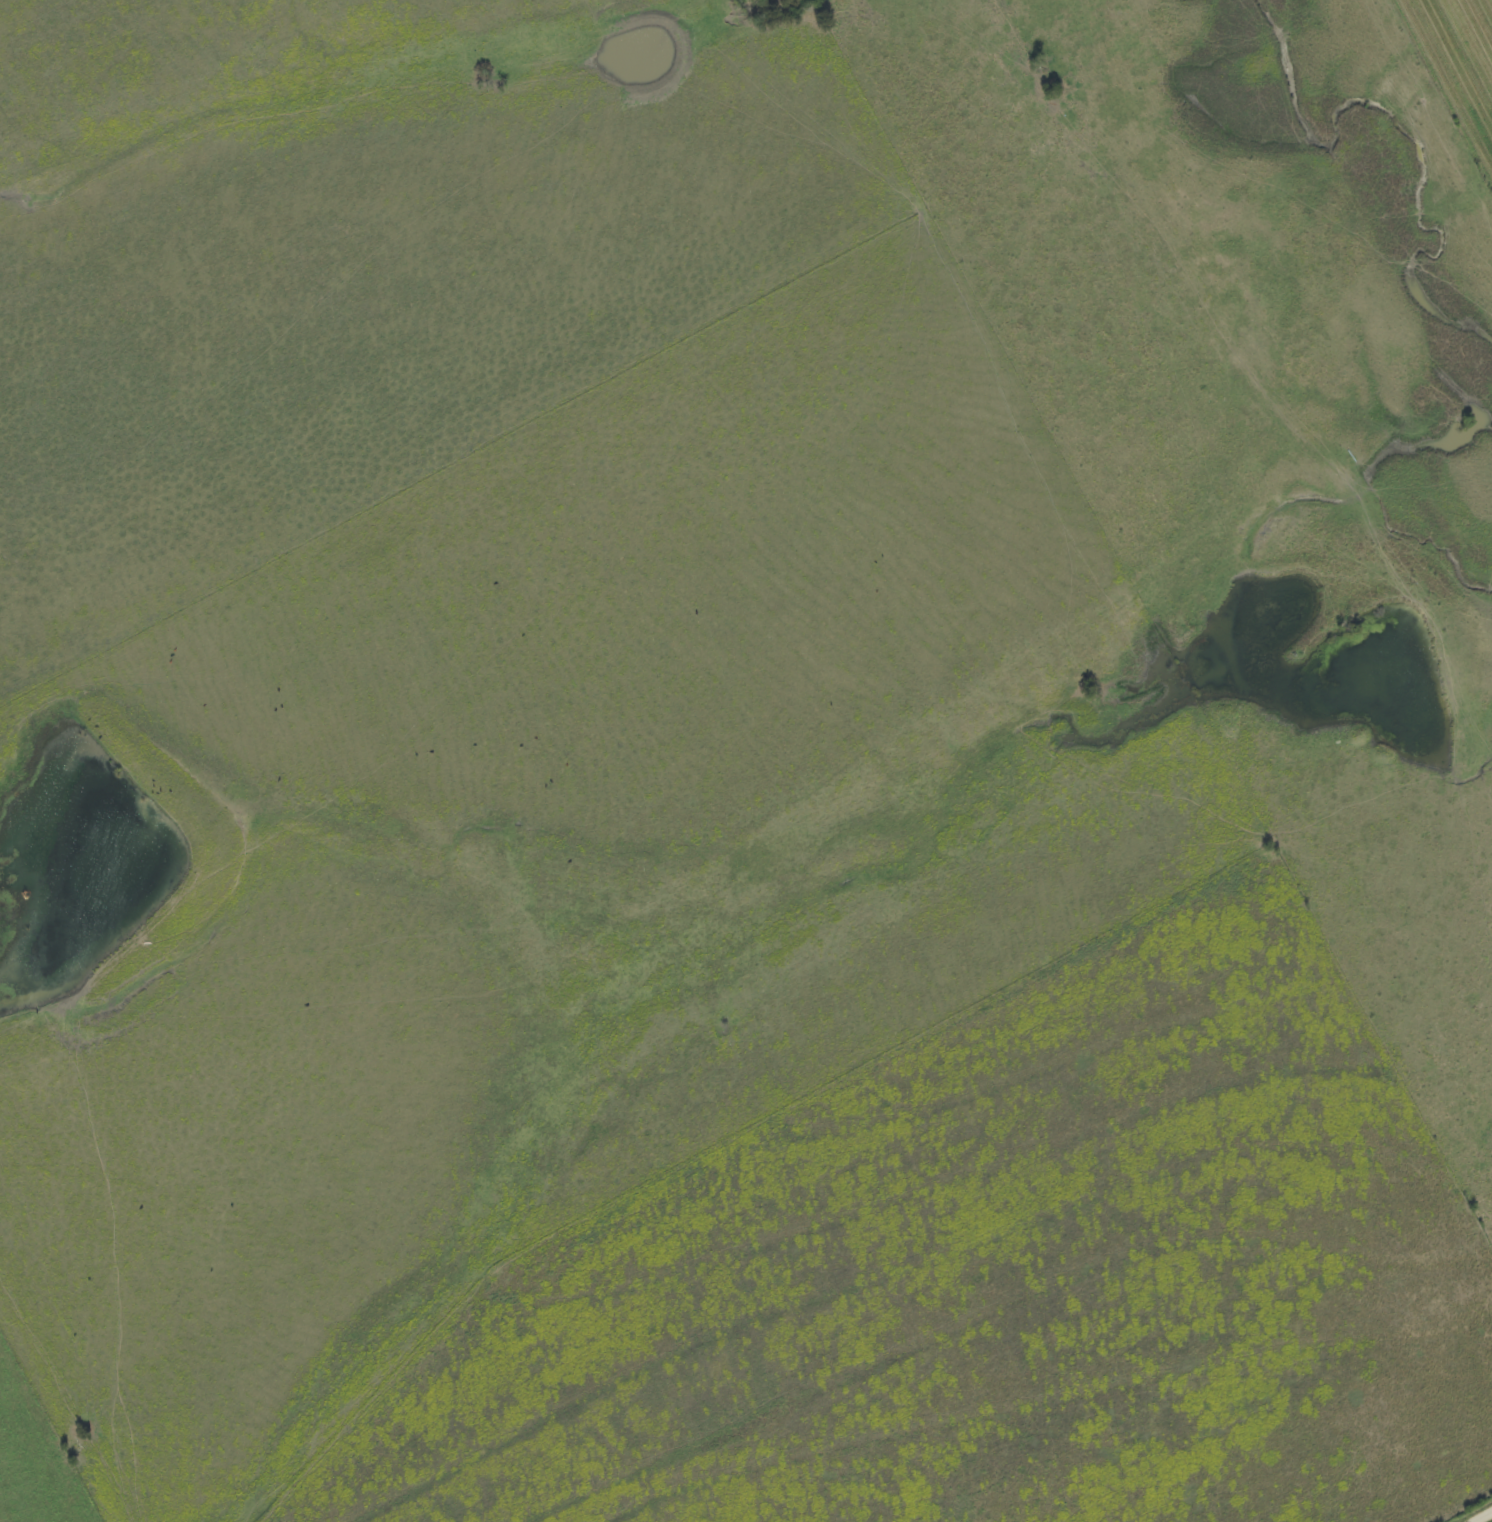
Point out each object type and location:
road: (1484, 1517)

